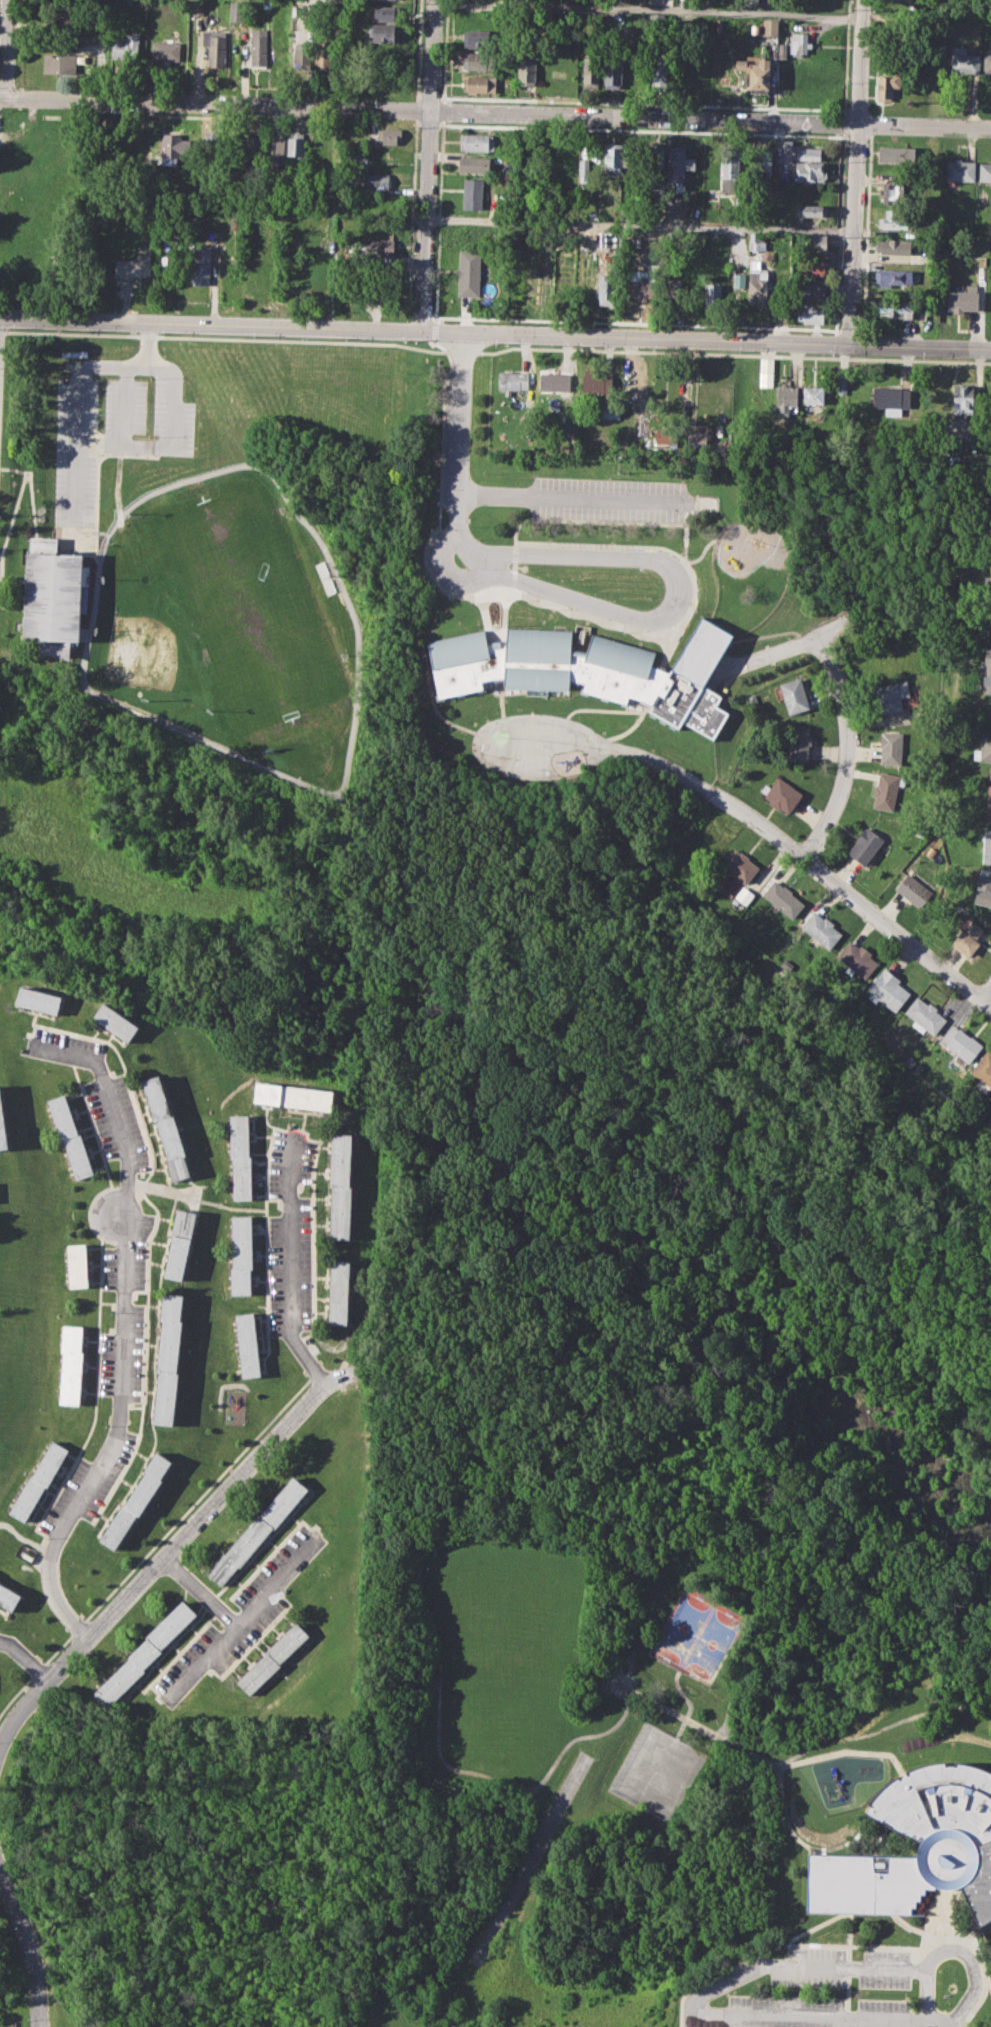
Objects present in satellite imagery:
building: (750, 3)
building: (198, 7)
road: (648, 7)
building: (236, 11)
building: (386, 13)
building: (61, 20)
building: (719, 24)
building: (770, 27)
building: (384, 32)
building: (480, 38)
building: (799, 44)
building: (217, 47)
road: (7, 48)
building: (126, 48)
building: (259, 48)
building: (165, 50)
building: (782, 50)
building: (324, 54)
building: (303, 55)
building: (481, 60)
building: (963, 60)
building: (58, 63)
building: (987, 63)
building: (593, 68)
building: (821, 69)
building: (757, 70)
building: (526, 71)
building: (657, 71)
building: (612, 76)
building: (481, 83)
building: (886, 88)
road: (495, 111)
building: (389, 134)
building: (211, 142)
building: (476, 142)
building: (296, 144)
building: (252, 146)
building: (275, 147)
building: (808, 152)
building: (614, 154)
building: (896, 154)
building: (362, 159)
building: (762, 162)
building: (474, 163)
building: (656, 163)
building: (680, 164)
building: (730, 164)
road: (428, 165)
building: (585, 168)
building: (960, 170)
building: (984, 170)
building: (810, 171)
road: (857, 172)
building: (377, 181)
building: (473, 193)
building: (893, 194)
building: (495, 209)
building: (672, 209)
building: (813, 209)
building: (593, 214)
building: (894, 219)
road: (641, 224)
building: (315, 229)
building: (471, 232)
building: (606, 239)
building: (758, 241)
building: (814, 243)
building: (894, 245)
building: (380, 246)
building: (202, 265)
building: (134, 266)
building: (813, 266)
building: (469, 272)
building: (893, 277)
building: (738, 280)
building: (646, 281)
building: (759, 283)
building: (607, 289)
building: (672, 289)
building: (812, 291)
building: (713, 294)
building: (962, 301)
building: (894, 307)
building: (815, 313)
road: (495, 332)
building: (765, 371)
building: (513, 380)
building: (595, 381)
building: (555, 382)
road: (79, 393)
building: (813, 394)
building: (787, 397)
building: (962, 398)
building: (892, 400)
road: (125, 405)
building: (608, 410)
parking lot: (112, 430)
road: (460, 433)
building: (663, 438)
building: (697, 438)
road: (168, 440)
road: (97, 474)
road: (117, 485)
road: (30, 490)
road: (576, 497)
parking lot: (609, 500)
road: (9, 524)
building: (988, 530)
road: (92, 543)
road: (470, 551)
road: (489, 564)
flagpole: (523, 568)
building: (986, 583)
building: (53, 592)
park: (219, 602)
building: (990, 602)
park: (245, 607)
road: (644, 618)
road: (838, 625)
road: (783, 648)
road: (825, 652)
park: (201, 660)
building: (589, 668)
building: (986, 668)
building: (794, 694)
building: (892, 696)
road: (355, 715)
building: (799, 742)
building: (891, 747)
building: (983, 749)
road: (658, 763)
road: (843, 768)
building: (989, 772)
building: (887, 790)
building: (781, 795)
building: (988, 803)
building: (867, 845)
building: (987, 847)
building: (740, 866)
building: (915, 887)
building: (983, 890)
building: (729, 891)
building: (744, 896)
road: (853, 897)
building: (782, 898)
building: (822, 929)
building: (967, 936)
building: (858, 958)
building: (890, 988)
road: (987, 993)
building: (39, 999)
building: (925, 1015)
building: (115, 1021)
building: (961, 1045)
building: (909, 1062)
building: (920, 1068)
building: (982, 1070)
building: (294, 1095)
road: (110, 1107)
building: (978, 1112)
building: (2, 1126)
building: (166, 1127)
building: (68, 1136)
building: (240, 1157)
building: (341, 1186)
building: (178, 1244)
building: (242, 1254)
building: (76, 1265)
road: (290, 1266)
building: (339, 1292)
building: (248, 1345)
building: (168, 1358)
building: (71, 1364)
road: (113, 1441)
building: (39, 1480)
building: (137, 1499)
road: (207, 1514)
building: (257, 1532)
road: (659, 1558)
road: (200, 1593)
building: (8, 1597)
road: (242, 1617)
building: (145, 1651)
road: (25, 1658)
building: (272, 1658)
road: (39, 1690)
road: (689, 1703)
road: (883, 1730)
road: (846, 1750)
road: (767, 1760)
road: (479, 1772)
building: (954, 1849)
road: (898, 1919)
road: (981, 1933)
road: (967, 1937)
road: (887, 1947)
road: (26, 1948)
road: (952, 1949)
road: (748, 1963)
road: (847, 1965)
parking lot: (807, 1991)
road: (695, 2003)
road: (977, 2003)
street lamp: (27, 2019)

